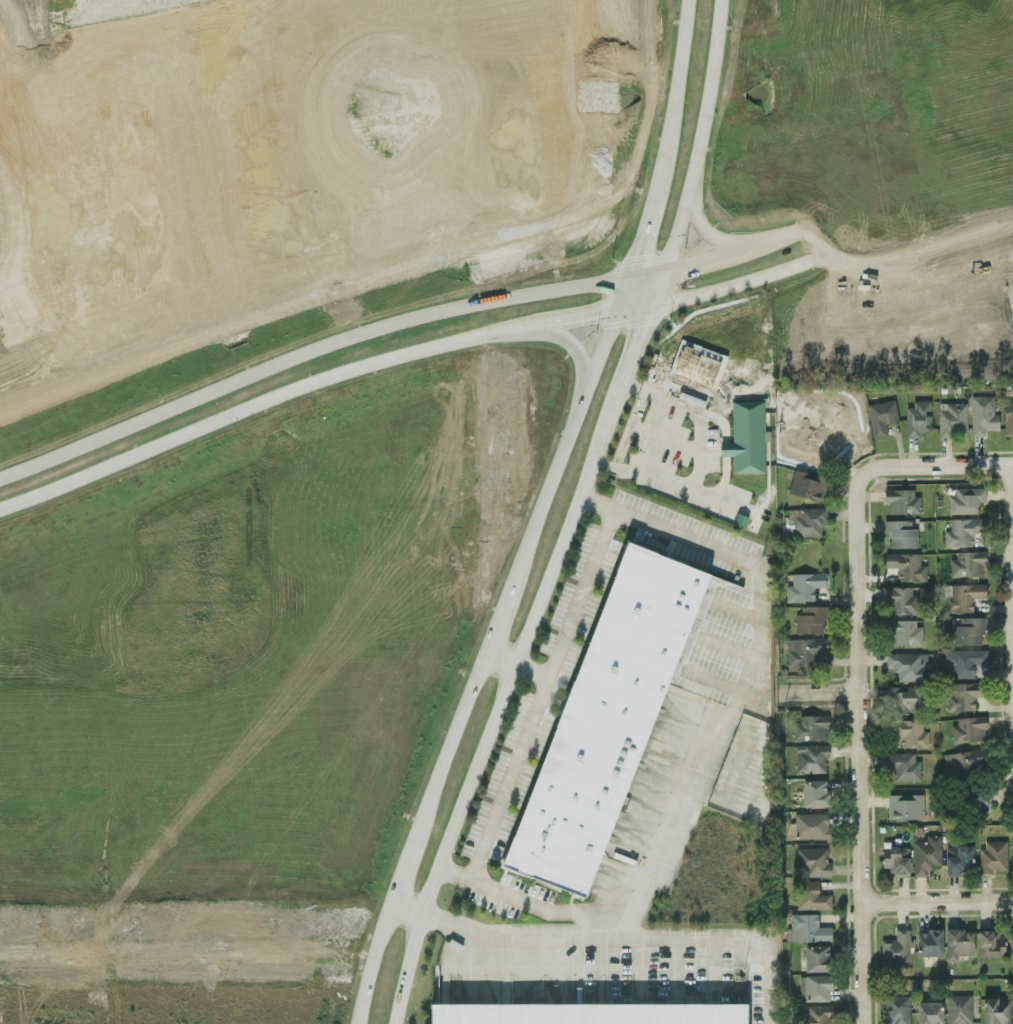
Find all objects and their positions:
road: (675, 90)
road: (700, 137)
road: (643, 228)
road: (730, 251)
traffic signals: (636, 253)
road: (729, 284)
road: (658, 289)
traffic signals: (598, 317)
road: (587, 318)
traffic signals: (645, 326)
road: (502, 332)
road: (323, 345)
road: (574, 347)
road: (636, 348)
road: (412, 353)
road: (697, 412)
building: (982, 413)
building: (880, 418)
building: (1008, 418)
building: (917, 419)
building: (951, 419)
building: (838, 427)
road: (568, 434)
road: (170, 438)
building: (746, 438)
building: (811, 448)
road: (942, 464)
road: (675, 485)
building: (807, 486)
building: (901, 501)
building: (965, 501)
building: (739, 521)
building: (807, 523)
building: (961, 533)
building: (900, 534)
building: (966, 564)
building: (905, 566)
road: (856, 575)
building: (803, 586)
road: (585, 591)
building: (963, 596)
building: (901, 600)
building: (810, 620)
road: (498, 622)
building: (968, 631)
building: (904, 632)
building: (802, 651)
road: (500, 658)
building: (963, 661)
building: (907, 665)
road: (823, 690)
building: (964, 695)
building: (904, 699)
road: (497, 704)
building: (606, 720)
building: (810, 728)
building: (967, 729)
building: (907, 733)
road: (450, 746)
building: (810, 759)
building: (963, 765)
building: (903, 766)
road: (696, 776)
road: (512, 777)
building: (814, 794)
building: (973, 800)
building: (904, 806)
building: (810, 826)
building: (1011, 850)
building: (925, 855)
road: (859, 856)
building: (992, 858)
building: (958, 859)
building: (895, 860)
building: (812, 862)
road: (401, 871)
building: (810, 897)
road: (532, 902)
road: (936, 902)
road: (404, 907)
building: (806, 928)
road: (734, 939)
building: (928, 943)
building: (959, 943)
building: (990, 944)
building: (1012, 944)
building: (895, 951)
building: (816, 958)
road: (371, 962)
building: (816, 988)
building: (958, 1009)
building: (897, 1010)
building: (591, 1011)
building: (995, 1011)
building: (928, 1012)
building: (814, 1014)

